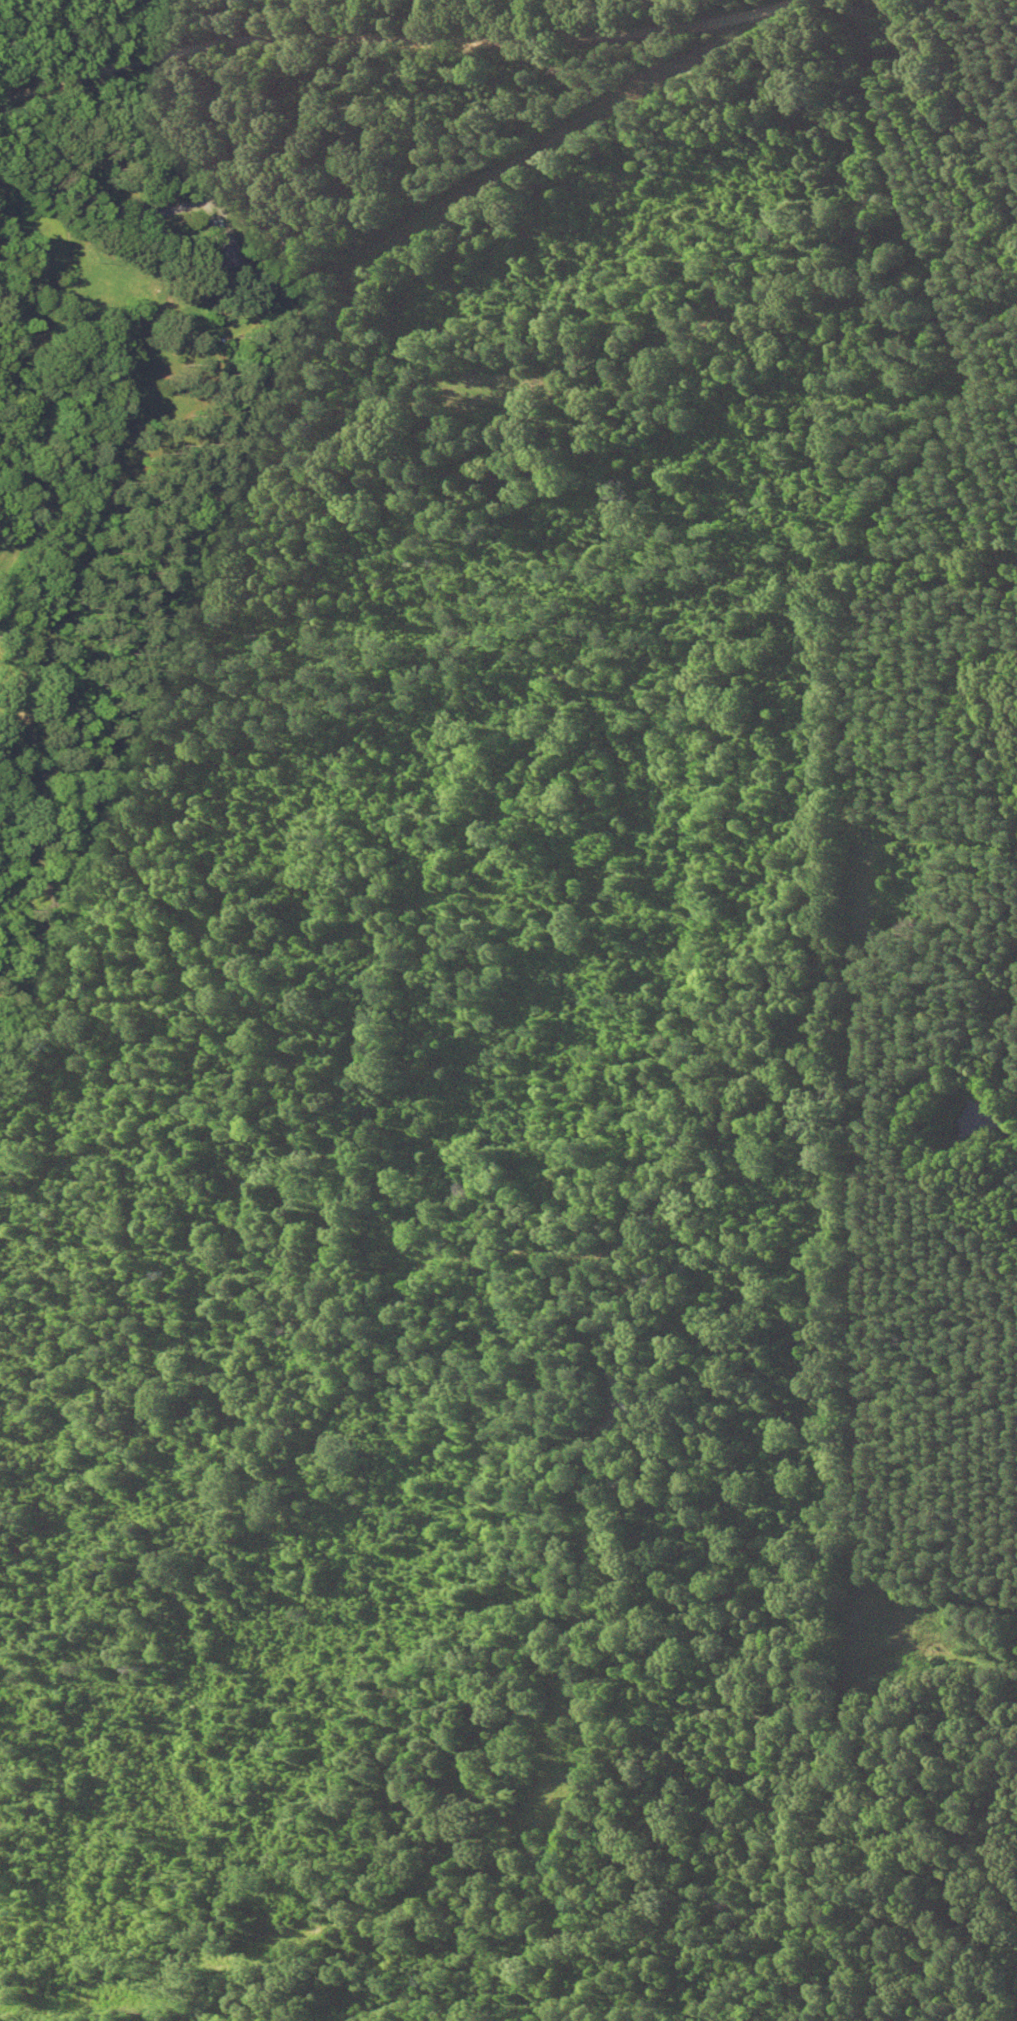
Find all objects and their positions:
road: (346, 27)
building: (226, 248)

